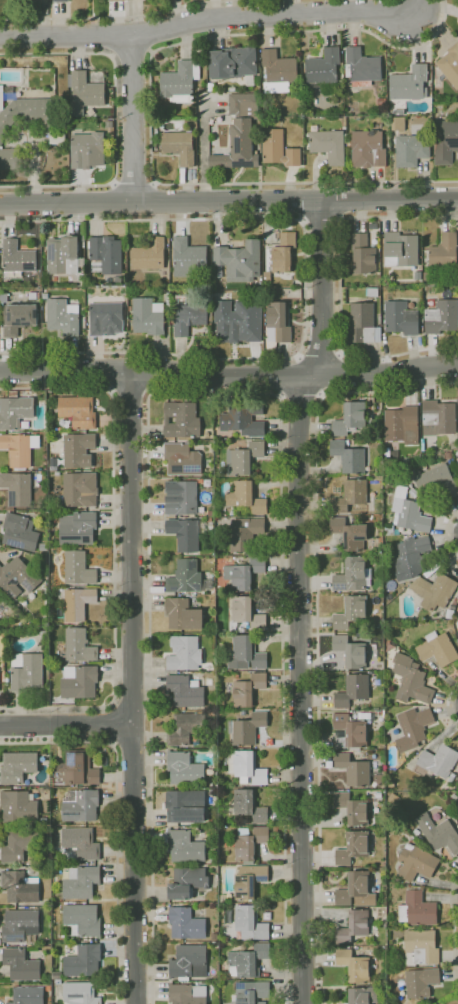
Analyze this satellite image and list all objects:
building: (40, 0)
building: (61, 0)
building: (119, 0)
road: (422, 5)
road: (122, 17)
road: (210, 20)
road: (132, 54)
building: (234, 64)
building: (450, 64)
building: (362, 67)
building: (322, 68)
building: (278, 71)
building: (181, 81)
building: (409, 84)
building: (211, 87)
building: (202, 89)
building: (232, 89)
building: (10, 90)
building: (86, 92)
building: (200, 96)
building: (215, 96)
building: (381, 100)
road: (150, 104)
building: (398, 112)
building: (27, 113)
road: (134, 117)
road: (115, 119)
building: (107, 123)
building: (397, 123)
building: (240, 133)
building: (58, 137)
building: (445, 141)
building: (328, 144)
building: (179, 146)
building: (87, 148)
building: (278, 149)
building: (367, 149)
building: (410, 150)
building: (11, 158)
road: (134, 183)
road: (228, 200)
road: (322, 222)
building: (266, 233)
building: (82, 237)
building: (400, 249)
building: (444, 250)
building: (363, 254)
building: (63, 255)
building: (106, 255)
building: (149, 255)
building: (280, 256)
building: (187, 257)
building: (17, 259)
building: (239, 261)
building: (426, 277)
building: (67, 285)
road: (305, 287)
road: (338, 288)
building: (372, 292)
building: (168, 294)
building: (32, 295)
building: (44, 295)
building: (4, 298)
building: (431, 302)
building: (168, 303)
building: (104, 316)
building: (147, 316)
building: (63, 317)
building: (442, 317)
building: (19, 318)
building: (190, 318)
building: (401, 318)
building: (237, 320)
building: (278, 323)
building: (363, 323)
road: (319, 352)
road: (229, 373)
road: (131, 391)
building: (13, 393)
road: (211, 394)
road: (300, 397)
building: (457, 397)
building: (78, 411)
building: (15, 412)
building: (438, 417)
building: (243, 418)
building: (349, 419)
building: (181, 420)
building: (402, 425)
building: (19, 449)
building: (77, 449)
building: (391, 452)
building: (349, 457)
building: (243, 458)
building: (182, 459)
building: (450, 460)
building: (207, 464)
building: (56, 466)
building: (57, 473)
building: (206, 482)
building: (436, 482)
building: (18, 488)
building: (76, 492)
building: (413, 494)
building: (245, 496)
building: (350, 496)
building: (183, 499)
building: (408, 512)
building: (52, 527)
building: (78, 528)
building: (390, 530)
building: (21, 531)
building: (403, 532)
building: (186, 533)
building: (350, 533)
road: (446, 533)
building: (244, 534)
building: (45, 546)
road: (113, 548)
building: (411, 557)
building: (78, 567)
building: (244, 573)
building: (353, 575)
building: (18, 577)
building: (187, 578)
building: (434, 591)
building: (0, 598)
road: (300, 598)
building: (457, 600)
building: (77, 601)
building: (350, 613)
building: (183, 614)
building: (248, 614)
building: (45, 621)
building: (29, 622)
building: (14, 624)
road: (317, 630)
building: (44, 632)
building: (80, 645)
building: (437, 649)
building: (350, 651)
building: (184, 654)
building: (246, 654)
building: (27, 670)
building: (235, 675)
building: (8, 679)
building: (410, 680)
building: (79, 681)
building: (208, 681)
road: (131, 687)
building: (186, 690)
building: (248, 690)
building: (352, 691)
building: (72, 701)
building: (221, 704)
road: (448, 704)
building: (378, 713)
building: (370, 721)
road: (65, 723)
road: (113, 724)
building: (186, 727)
building: (412, 728)
building: (247, 729)
building: (349, 732)
building: (438, 761)
building: (19, 766)
building: (248, 767)
building: (76, 769)
building: (185, 769)
building: (353, 770)
building: (454, 776)
building: (81, 805)
building: (186, 805)
building: (250, 805)
building: (21, 806)
building: (352, 808)
building: (457, 811)
road: (116, 817)
building: (58, 821)
building: (415, 832)
building: (438, 833)
building: (82, 842)
building: (250, 842)
building: (20, 844)
building: (185, 846)
building: (353, 847)
building: (416, 862)
building: (217, 875)
building: (250, 881)
building: (82, 882)
building: (188, 882)
building: (21, 886)
building: (357, 890)
building: (49, 902)
building: (418, 908)
building: (83, 920)
building: (251, 921)
building: (187, 923)
building: (21, 925)
building: (356, 926)
building: (430, 928)
road: (453, 931)
building: (50, 943)
building: (246, 945)
building: (421, 947)
building: (69, 950)
building: (84, 960)
building: (248, 960)
building: (190, 961)
building: (22, 964)
building: (355, 965)
building: (57, 975)
building: (422, 982)
building: (81, 993)
building: (251, 993)
building: (188, 994)
building: (29, 995)
building: (363, 995)

